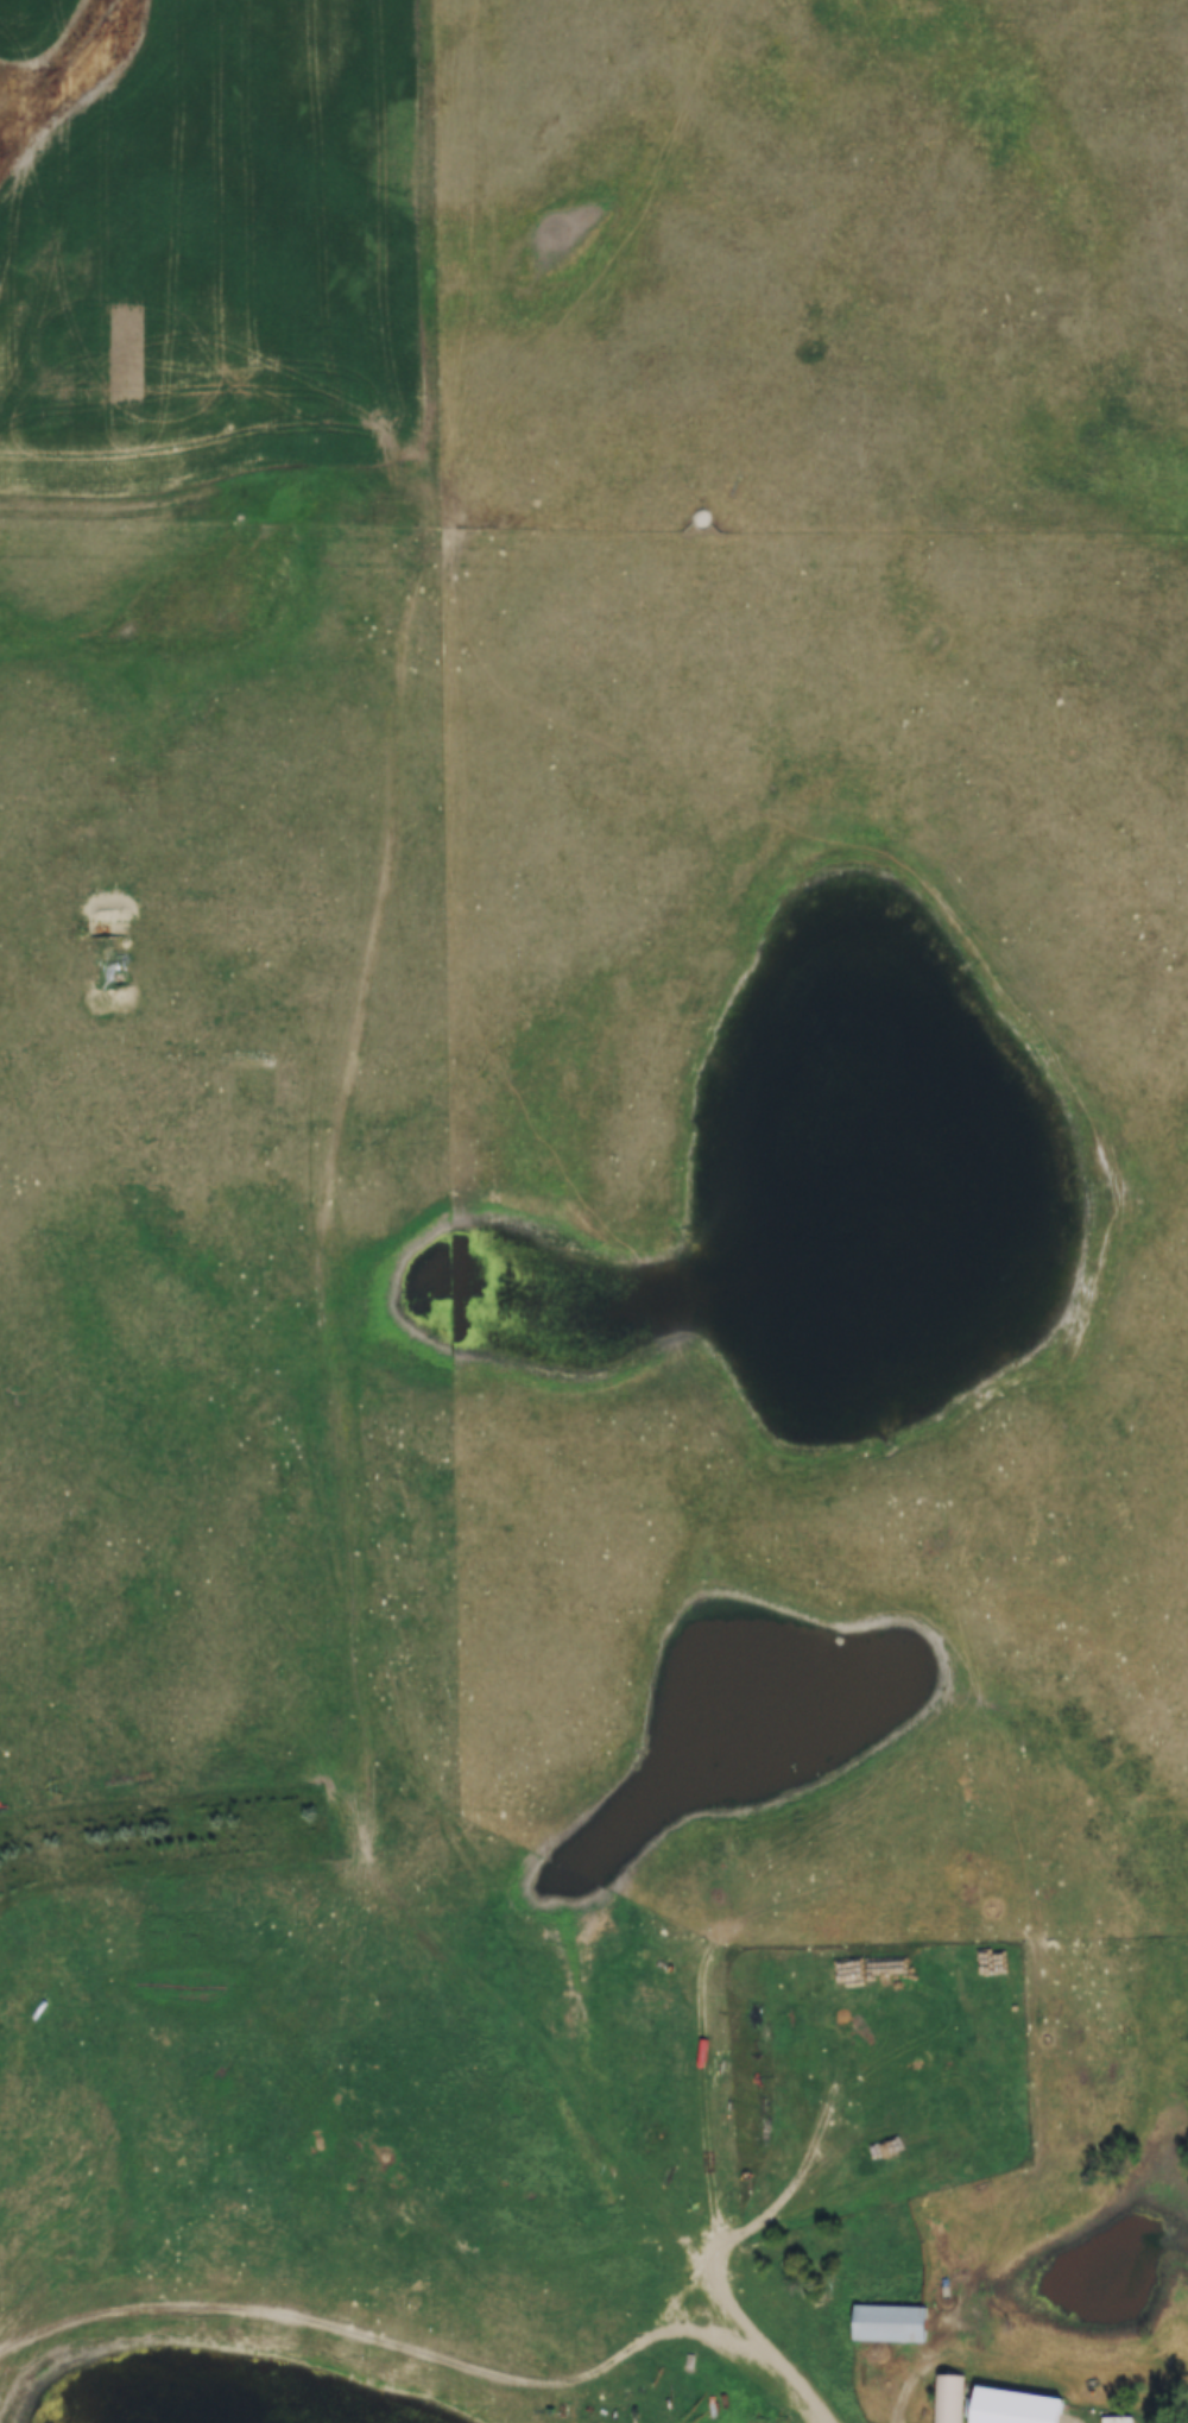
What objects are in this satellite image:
road: (740, 2240)
building: (880, 2323)
road: (380, 2347)
building: (1012, 2408)

